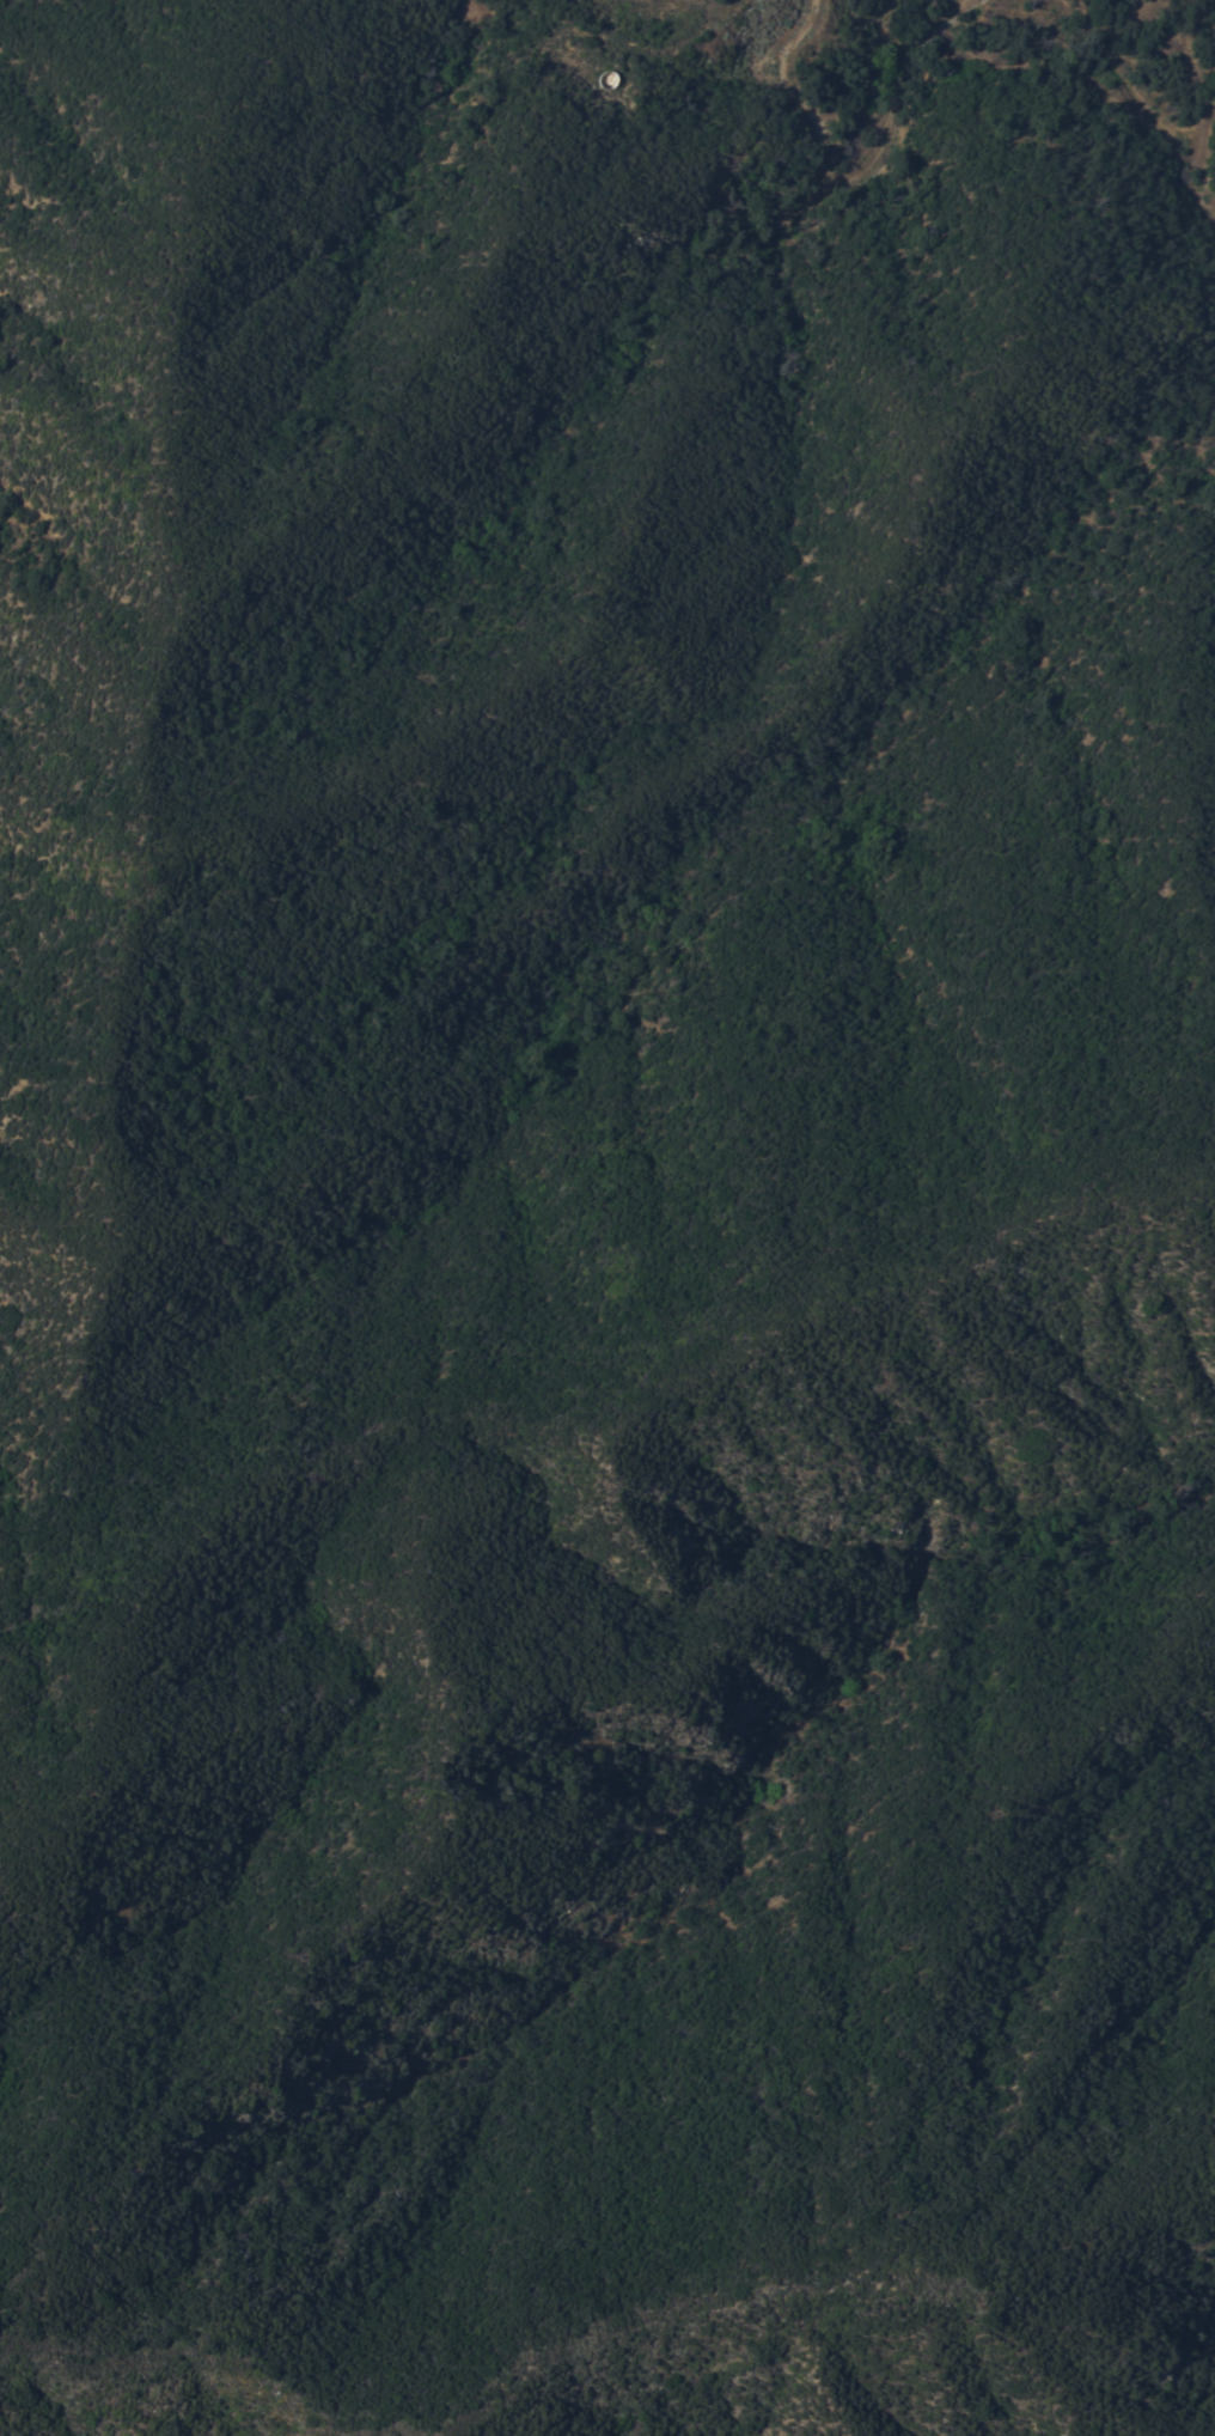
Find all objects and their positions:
building: (606, 78)
road: (1082, 84)
road: (849, 184)

